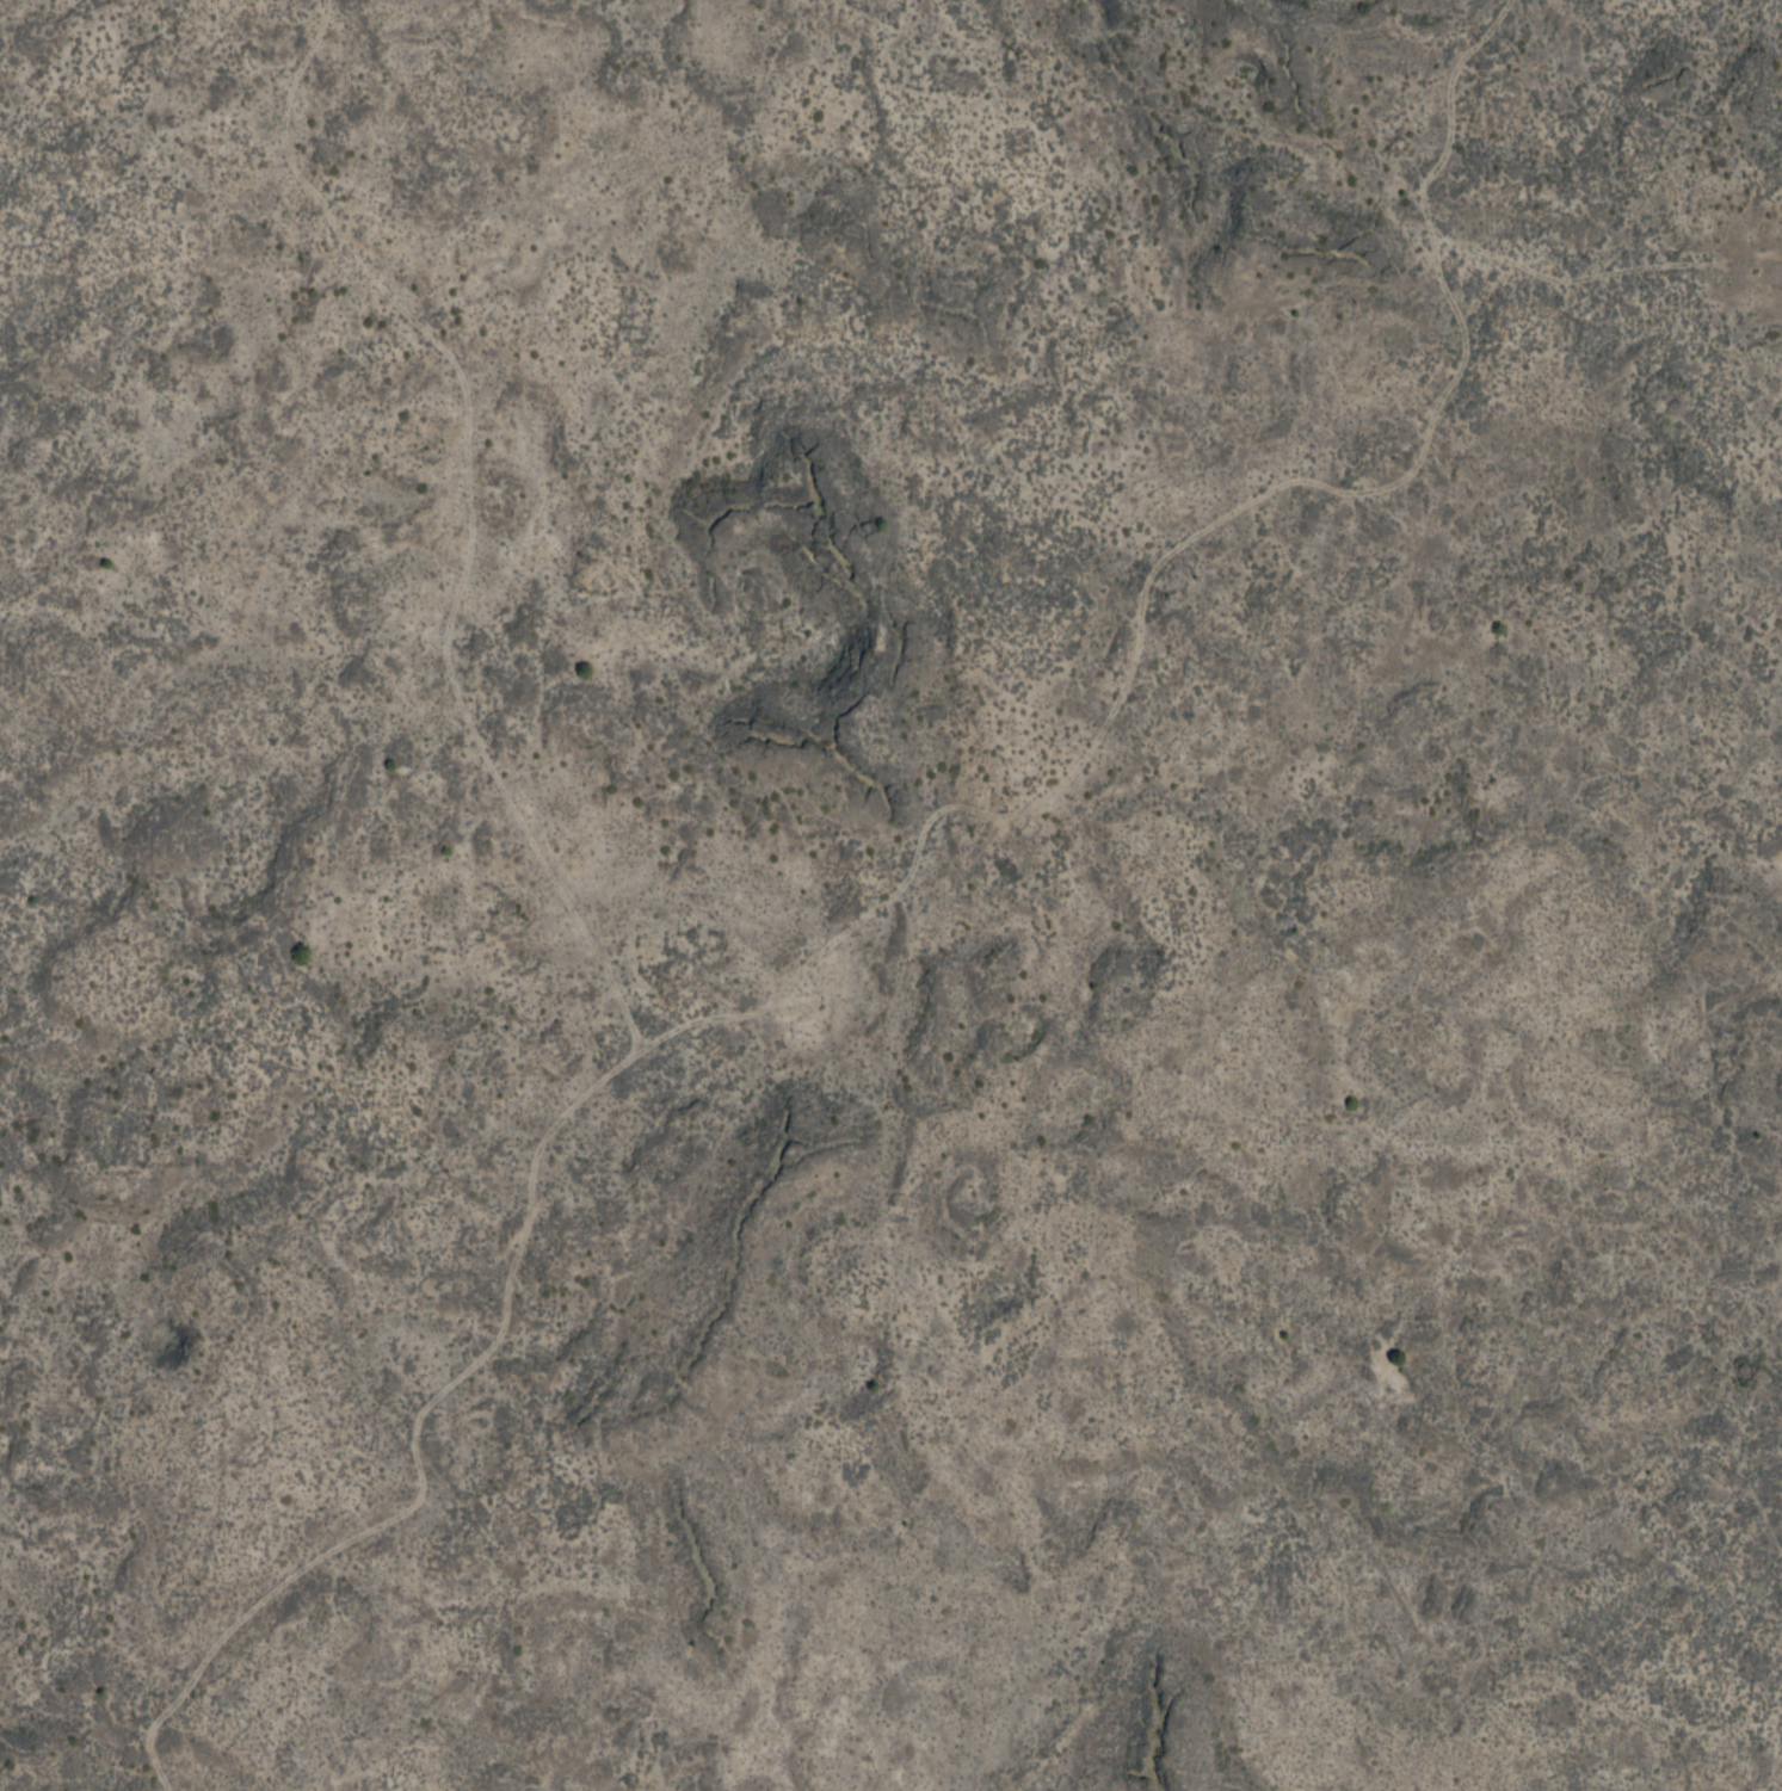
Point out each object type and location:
road: (899, 889)

